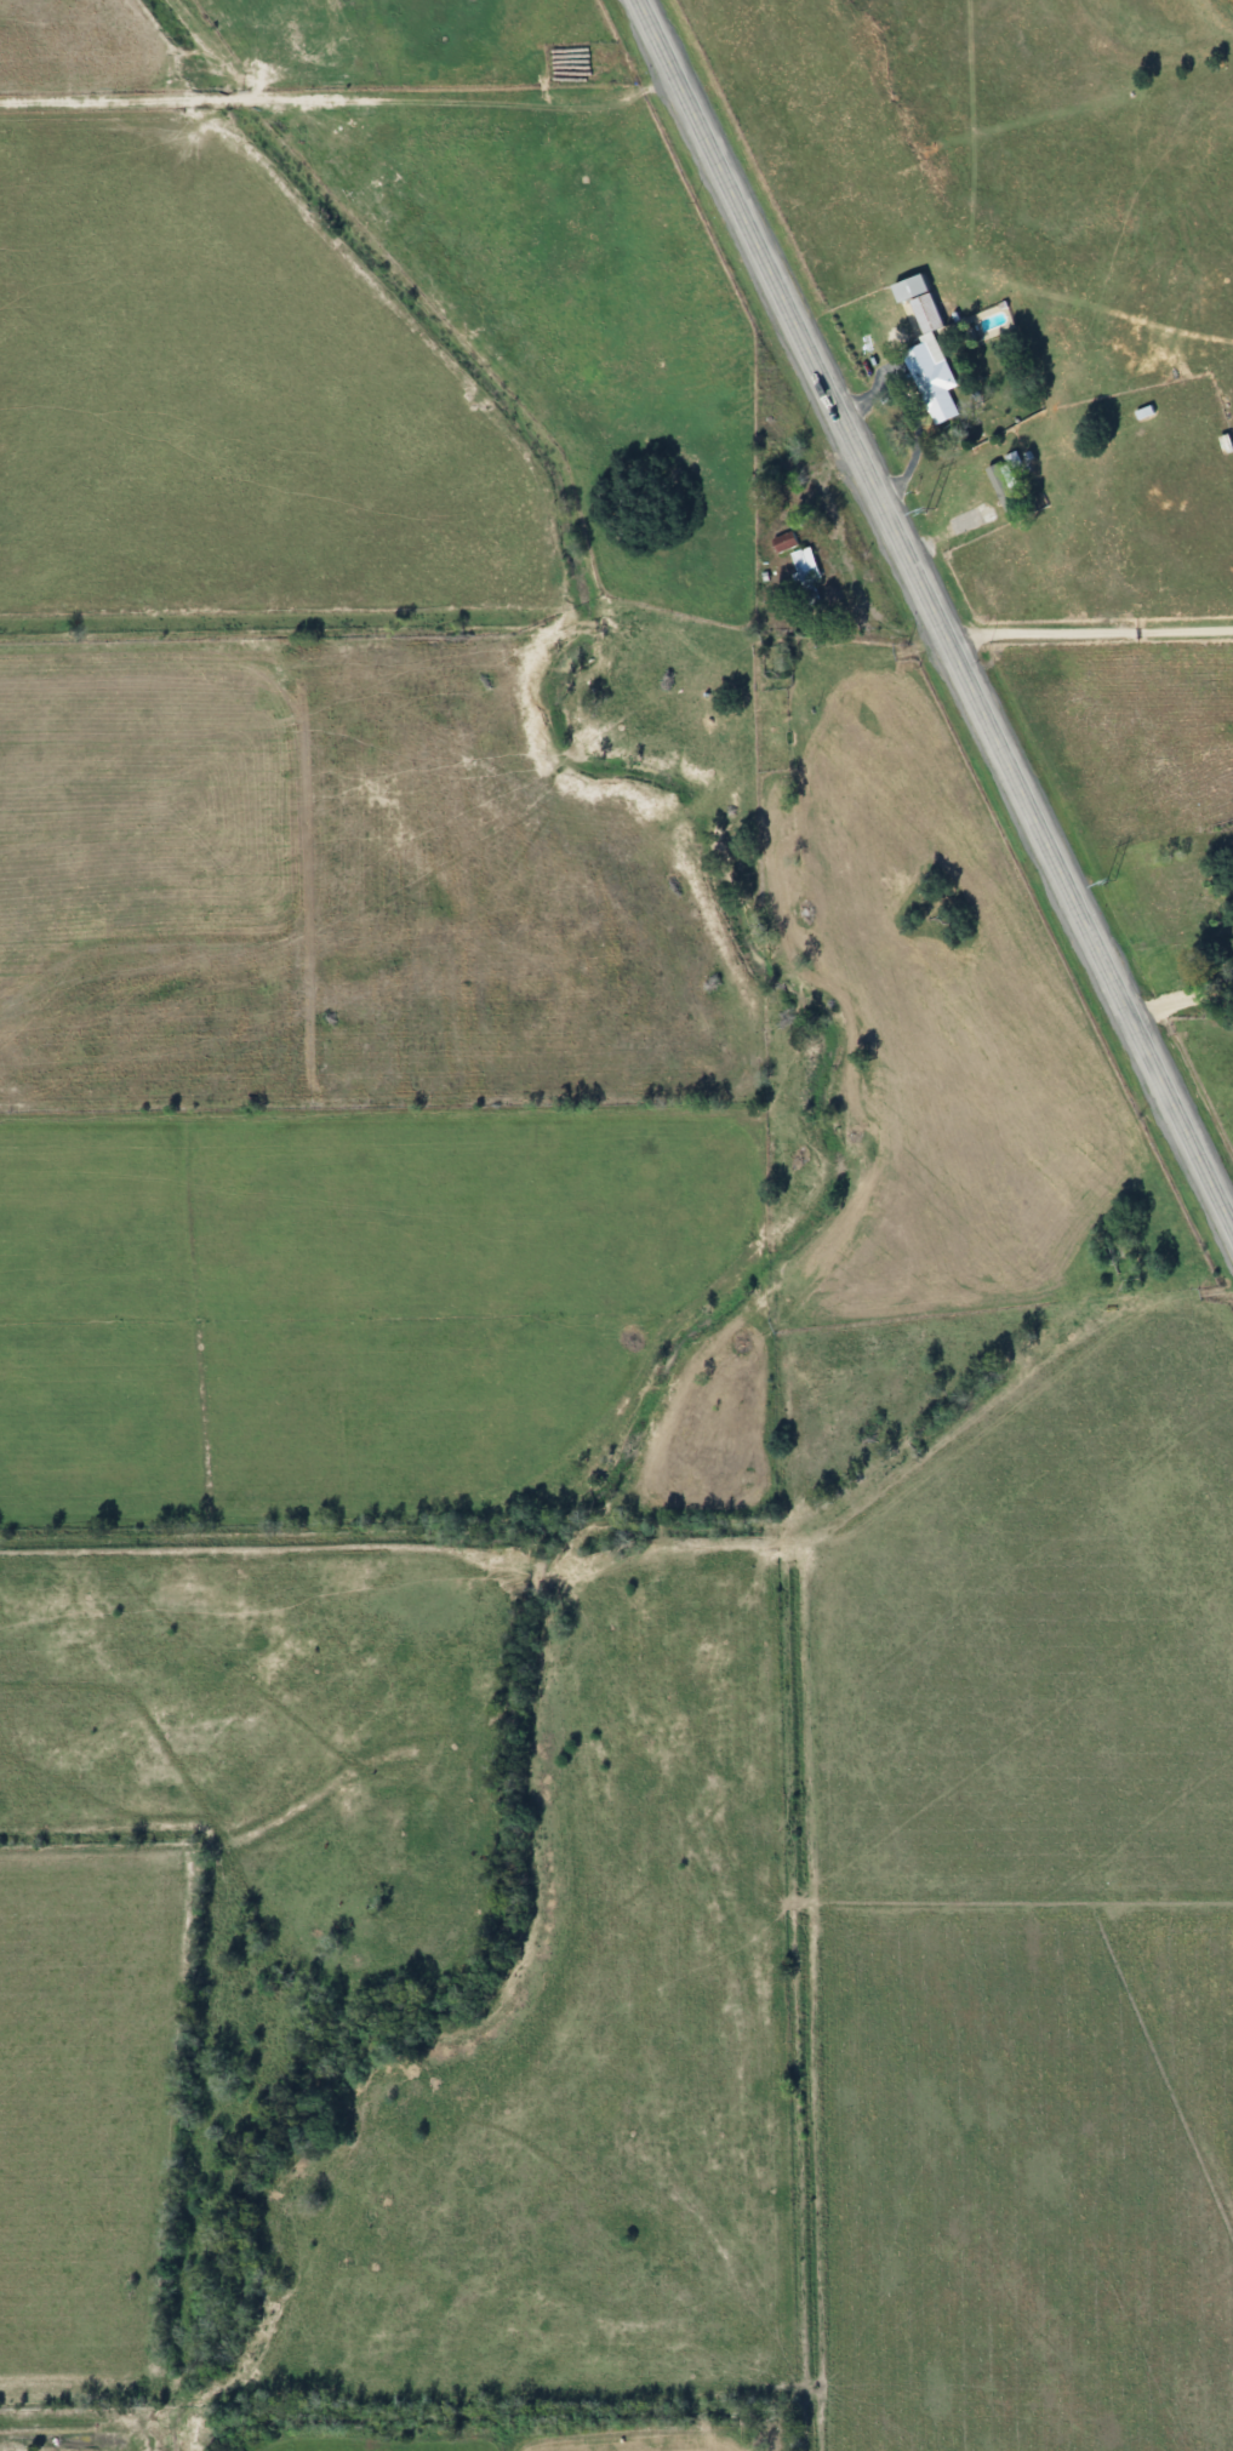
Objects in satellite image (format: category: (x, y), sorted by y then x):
building: (920, 349)
road: (906, 413)
building: (984, 493)
power tower: (930, 510)
building: (777, 541)
building: (800, 572)
road: (935, 615)
road: (1088, 629)
power tower: (1111, 881)
road: (1177, 994)

